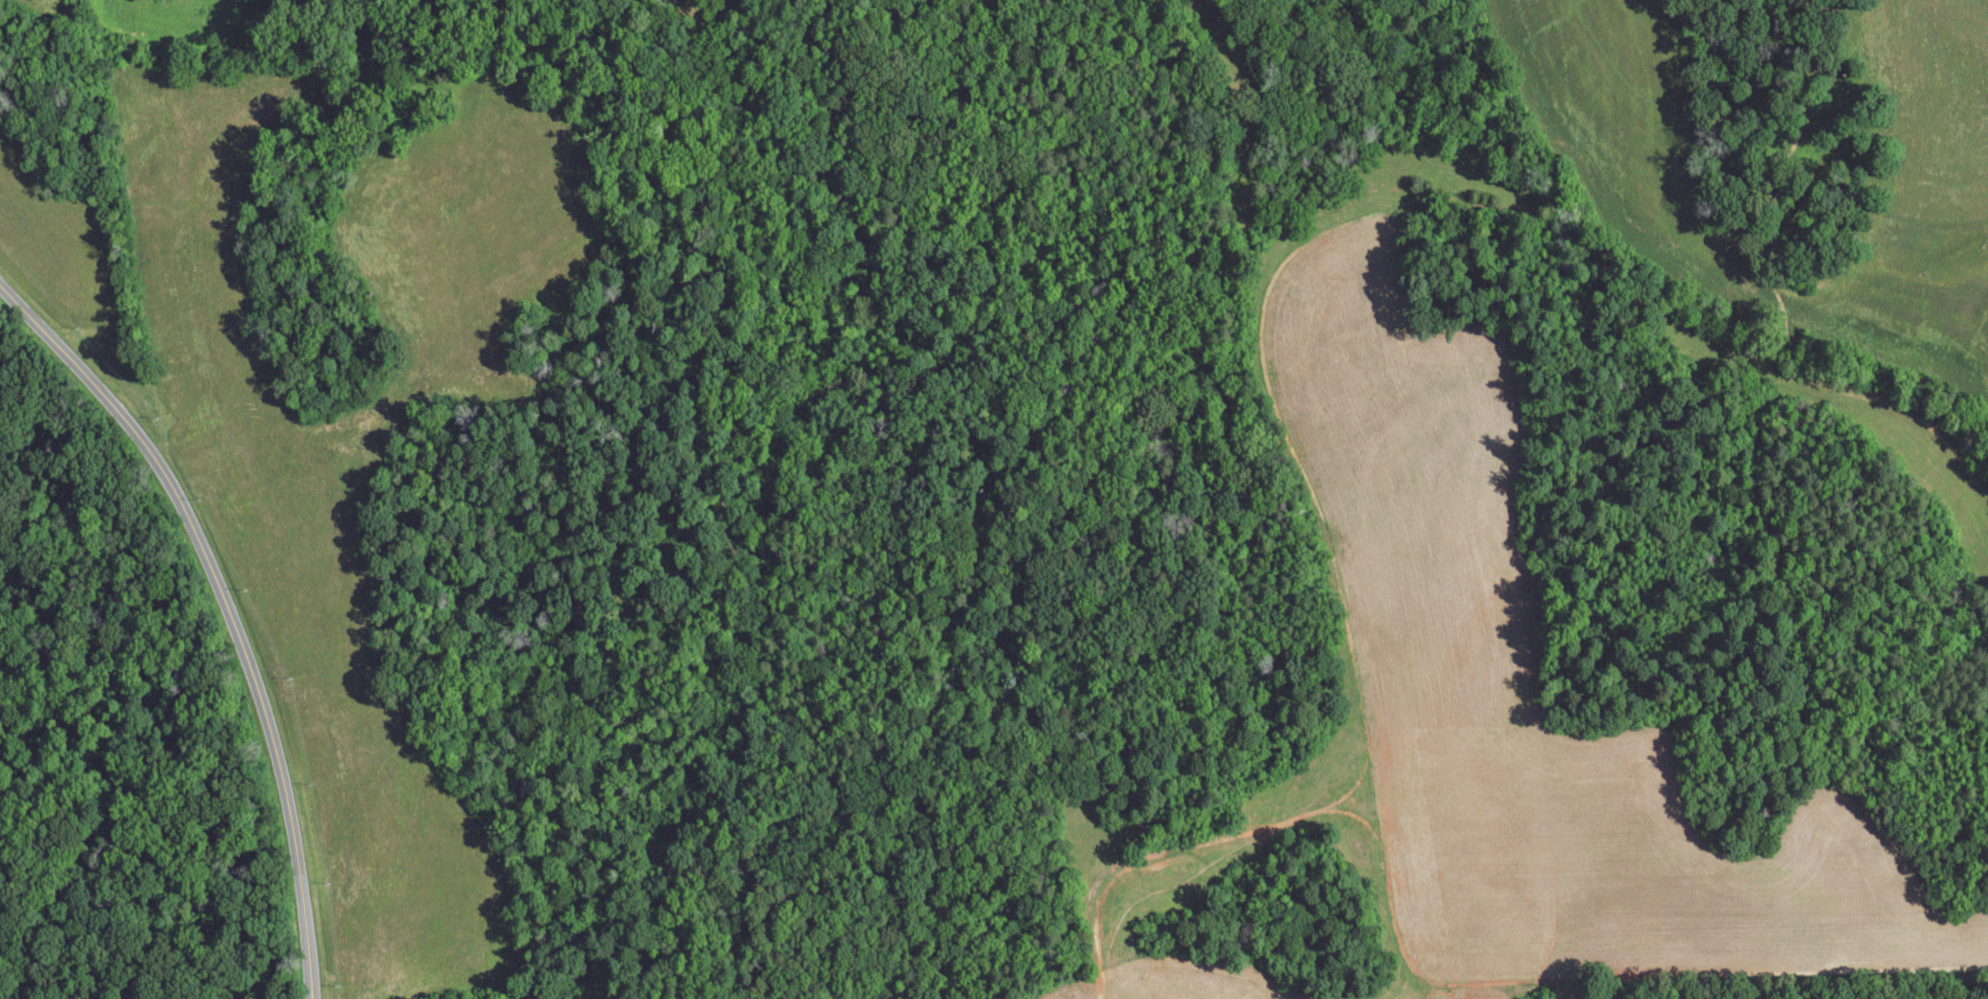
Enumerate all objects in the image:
road: (229, 608)

